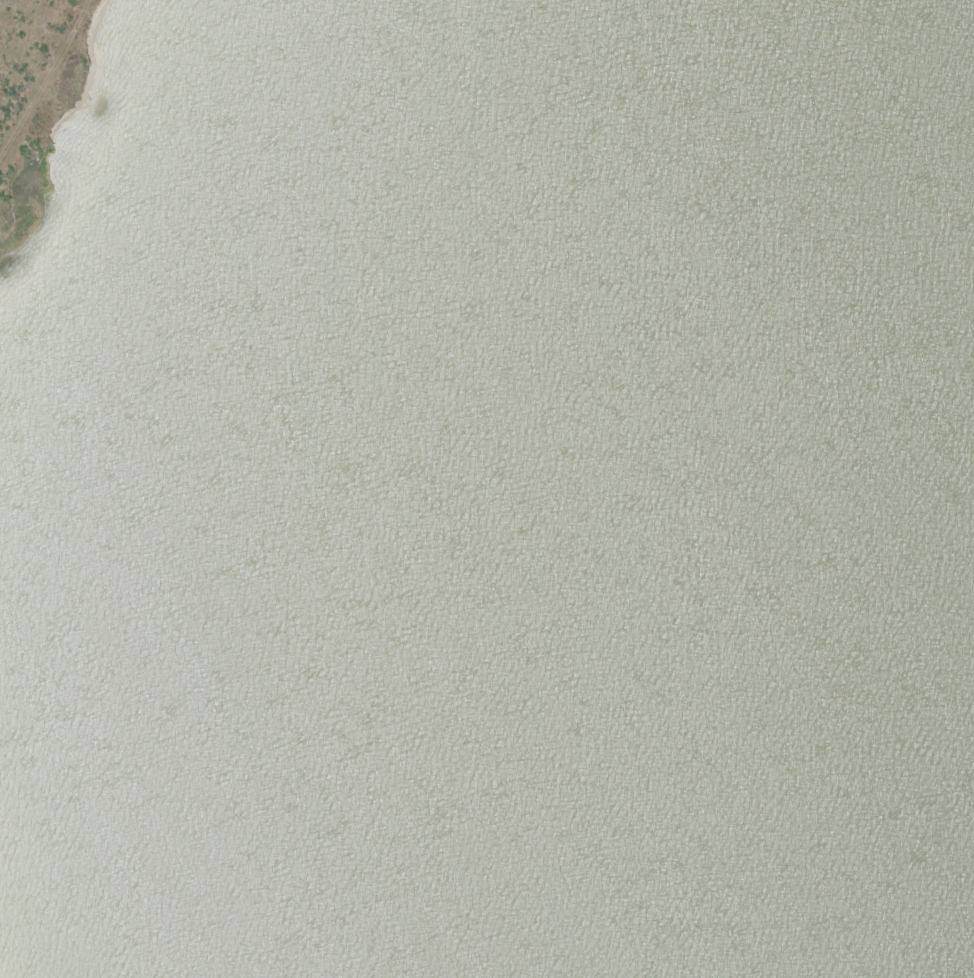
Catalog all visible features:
road: (6, 5)

